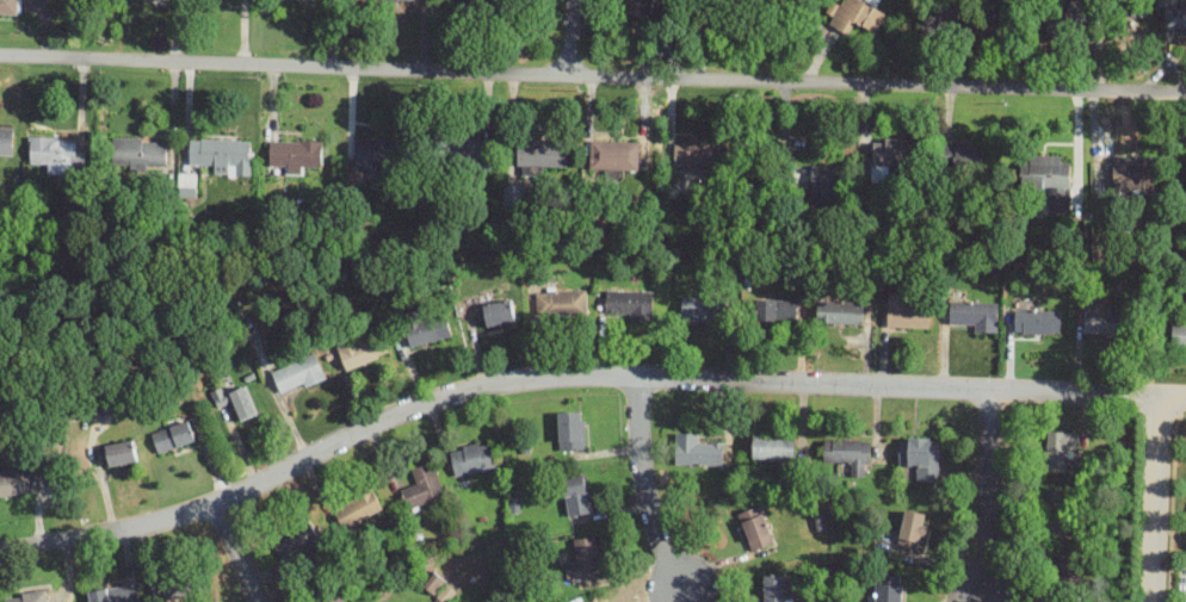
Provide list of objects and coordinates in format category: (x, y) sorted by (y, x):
building: (395, 0)
building: (493, 2)
building: (11, 6)
building: (637, 7)
building: (852, 14)
building: (1062, 18)
building: (937, 23)
road: (568, 37)
road: (592, 75)
building: (6, 139)
building: (220, 151)
building: (376, 151)
building: (471, 151)
building: (55, 153)
building: (140, 153)
building: (296, 154)
building: (543, 154)
building: (617, 154)
building: (693, 154)
building: (891, 156)
building: (962, 159)
building: (1135, 174)
building: (1051, 176)
building: (187, 184)
building: (824, 184)
building: (513, 193)
building: (562, 304)
building: (629, 304)
building: (702, 309)
building: (776, 310)
building: (840, 311)
building: (906, 311)
building: (500, 312)
building: (975, 314)
building: (1038, 321)
building: (1104, 322)
building: (421, 328)
building: (1179, 334)
building: (363, 349)
building: (298, 374)
road: (541, 379)
road: (1122, 396)
road: (1145, 397)
road: (1173, 398)
building: (236, 399)
building: (573, 429)
building: (174, 435)
building: (773, 446)
building: (1057, 449)
building: (697, 451)
building: (121, 452)
building: (850, 453)
building: (920, 457)
building: (472, 458)
building: (17, 480)
building: (422, 484)
road: (643, 489)
building: (576, 495)
road: (986, 495)
road: (1157, 499)
building: (358, 508)
building: (1056, 510)
building: (756, 527)
building: (914, 529)
building: (888, 534)
building: (298, 536)
road: (235, 553)
building: (583, 558)
building: (1068, 573)
building: (185, 583)
building: (437, 587)
building: (776, 588)
building: (889, 589)
building: (115, 594)
building: (26, 596)
building: (338, 598)

